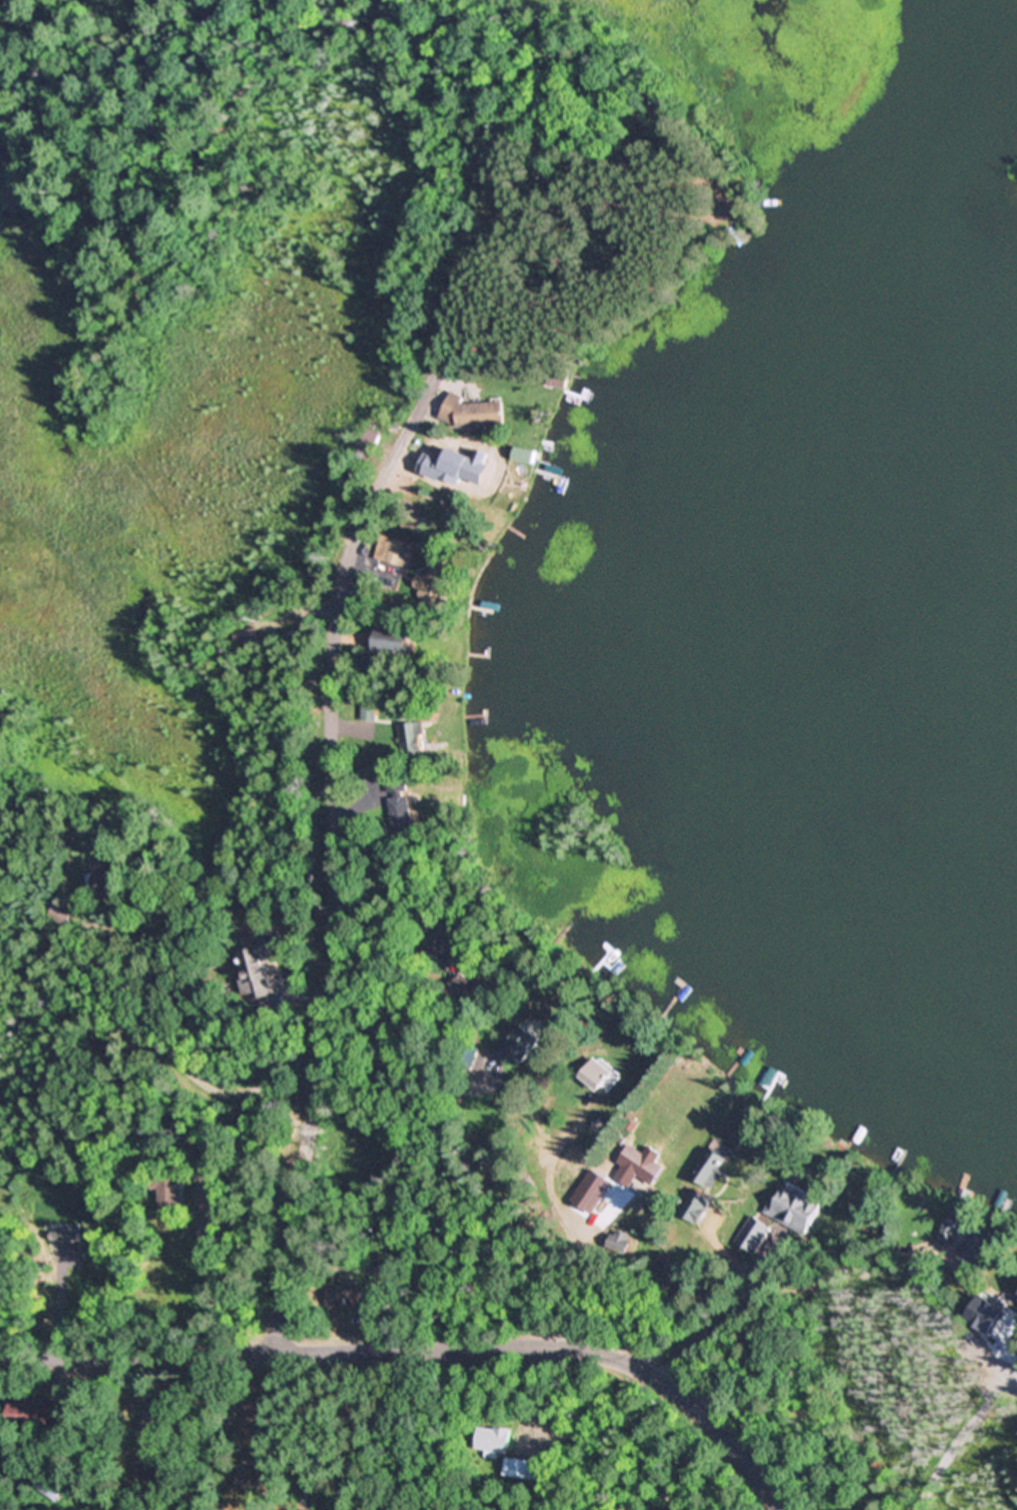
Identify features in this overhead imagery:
building: (559, 374)
building: (473, 413)
building: (374, 434)
building: (369, 447)
building: (525, 456)
building: (358, 457)
building: (365, 463)
building: (436, 475)
building: (494, 477)
building: (352, 481)
building: (457, 514)
building: (414, 523)
building: (400, 553)
building: (437, 581)
building: (391, 644)
building: (383, 709)
building: (414, 738)
building: (399, 781)
road: (341, 806)
building: (405, 813)
building: (383, 827)
building: (110, 884)
building: (428, 917)
building: (61, 920)
road: (489, 973)
building: (256, 974)
road: (419, 987)
building: (461, 989)
building: (524, 1042)
building: (467, 1055)
building: (599, 1074)
building: (633, 1125)
building: (644, 1163)
building: (712, 1165)
building: (169, 1193)
building: (699, 1202)
building: (795, 1208)
building: (754, 1234)
building: (979, 1239)
building: (620, 1241)
building: (663, 1263)
road: (773, 1278)
building: (678, 1281)
building: (5, 1288)
building: (653, 1288)
building: (356, 1295)
building: (693, 1319)
road: (427, 1347)
road: (935, 1385)
building: (42, 1412)
building: (174, 1427)
road: (958, 1436)
building: (495, 1439)
building: (235, 1453)
building: (148, 1466)
building: (521, 1468)
building: (262, 1476)
building: (53, 1486)
building: (25, 1499)

